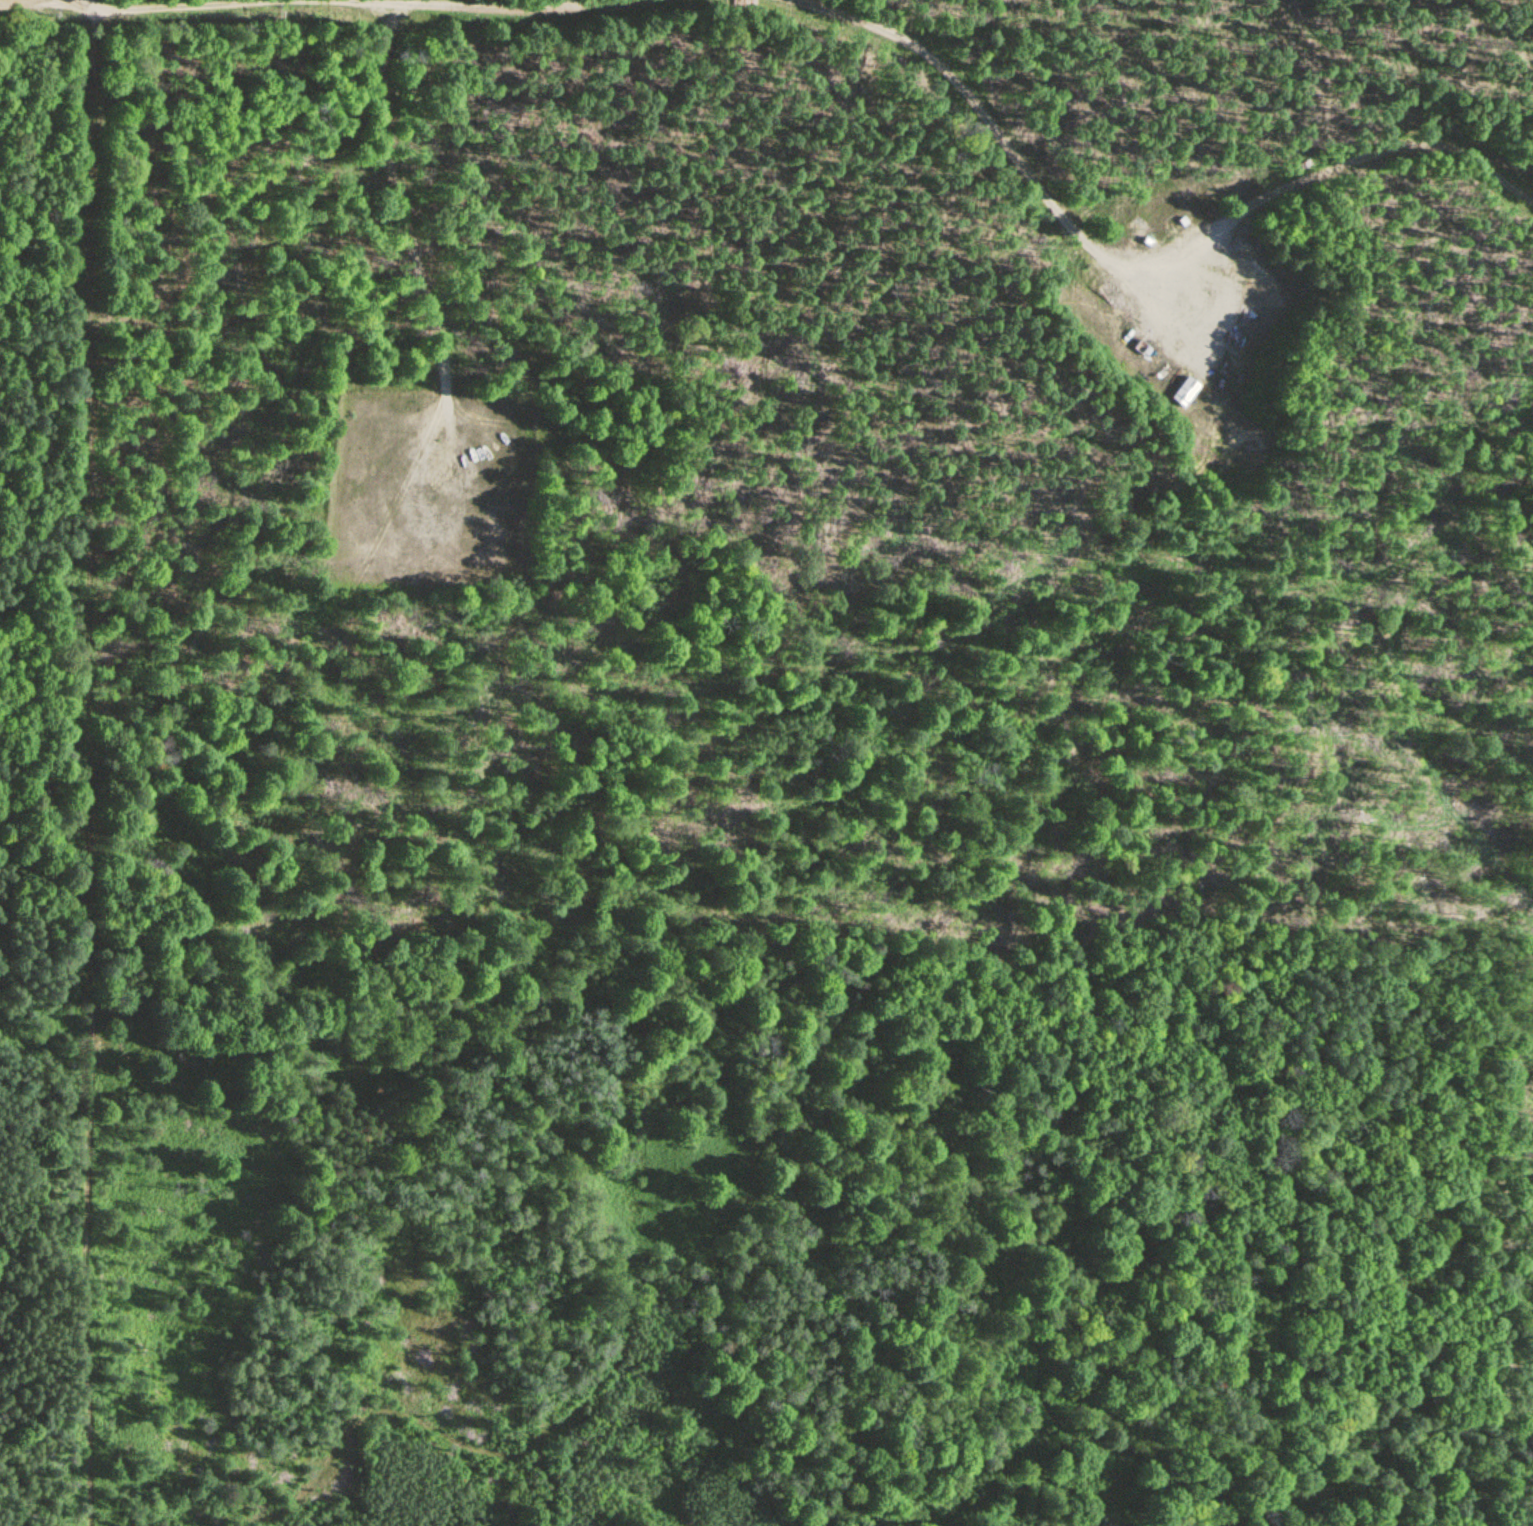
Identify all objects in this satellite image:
road: (191, 5)
road: (490, 6)
road: (371, 19)
road: (967, 98)
road: (1405, 136)
road: (404, 204)
road: (1181, 229)
building: (1184, 393)
road: (88, 766)
road: (44, 938)

